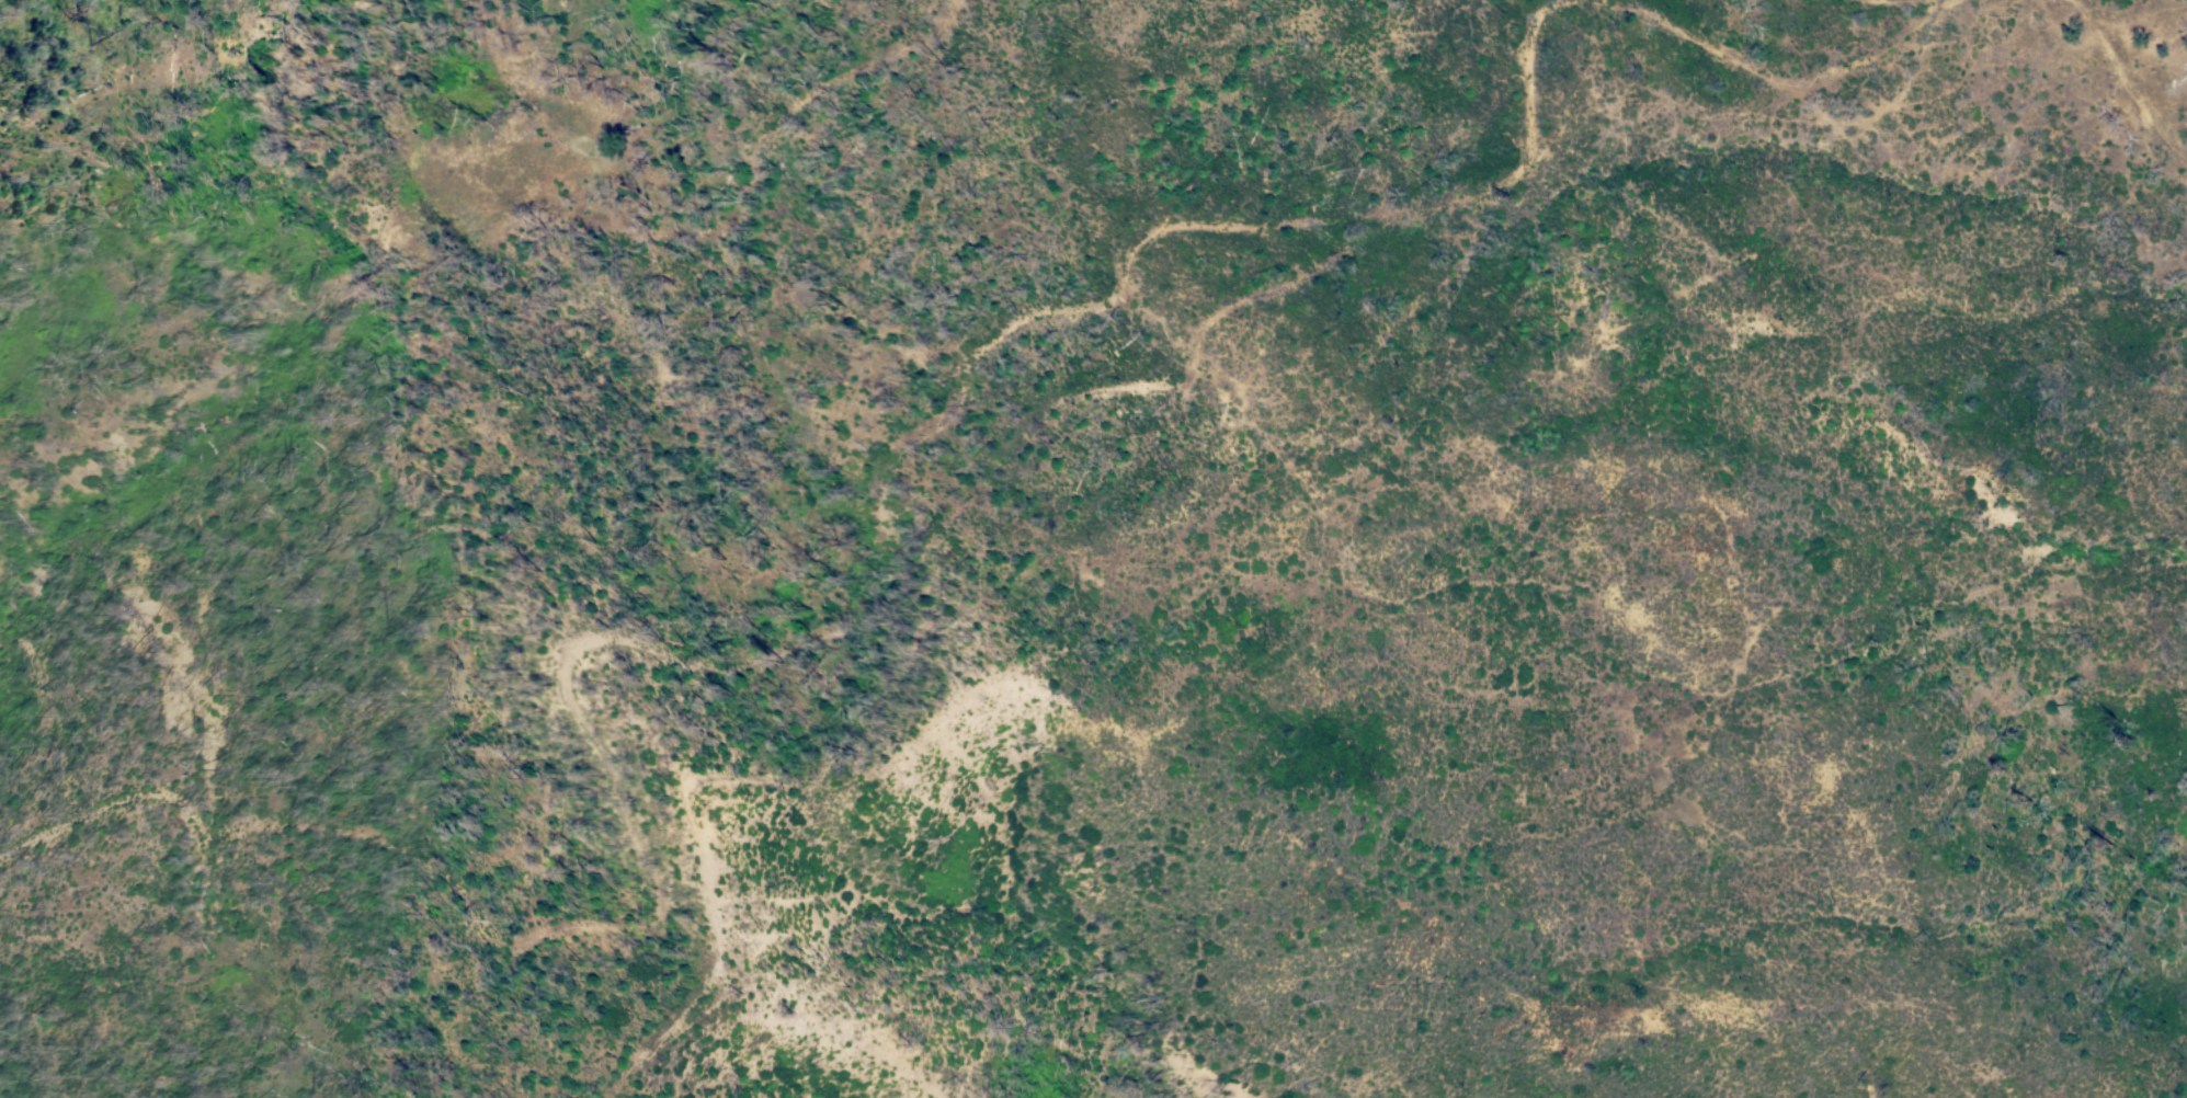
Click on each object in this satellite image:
road: (2137, 101)

